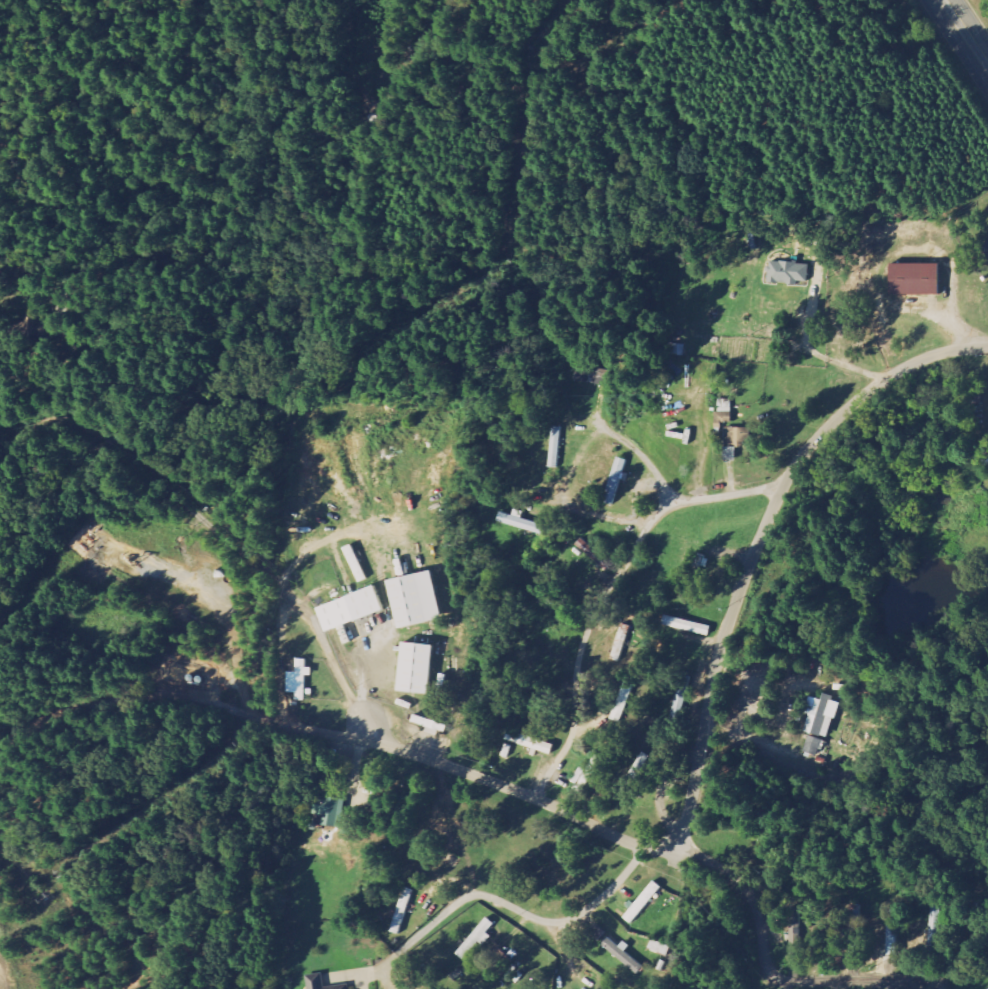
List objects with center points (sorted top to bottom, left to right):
road: (965, 32)
road: (568, 63)
building: (786, 273)
building: (912, 280)
building: (676, 350)
building: (723, 415)
building: (737, 436)
road: (640, 453)
building: (729, 454)
building: (984, 460)
building: (618, 480)
building: (523, 522)
road: (221, 533)
road: (339, 534)
building: (593, 551)
building: (405, 568)
road: (608, 590)
building: (336, 598)
building: (422, 599)
road: (216, 601)
building: (356, 610)
building: (693, 626)
building: (305, 680)
road: (711, 696)
building: (623, 701)
road: (109, 702)
building: (681, 706)
building: (826, 716)
road: (301, 727)
building: (534, 742)
building: (816, 745)
building: (589, 773)
building: (335, 811)
building: (646, 902)
road: (528, 911)
building: (934, 933)
building: (480, 938)
building: (619, 949)
building: (501, 960)
road: (770, 965)
building: (324, 983)

